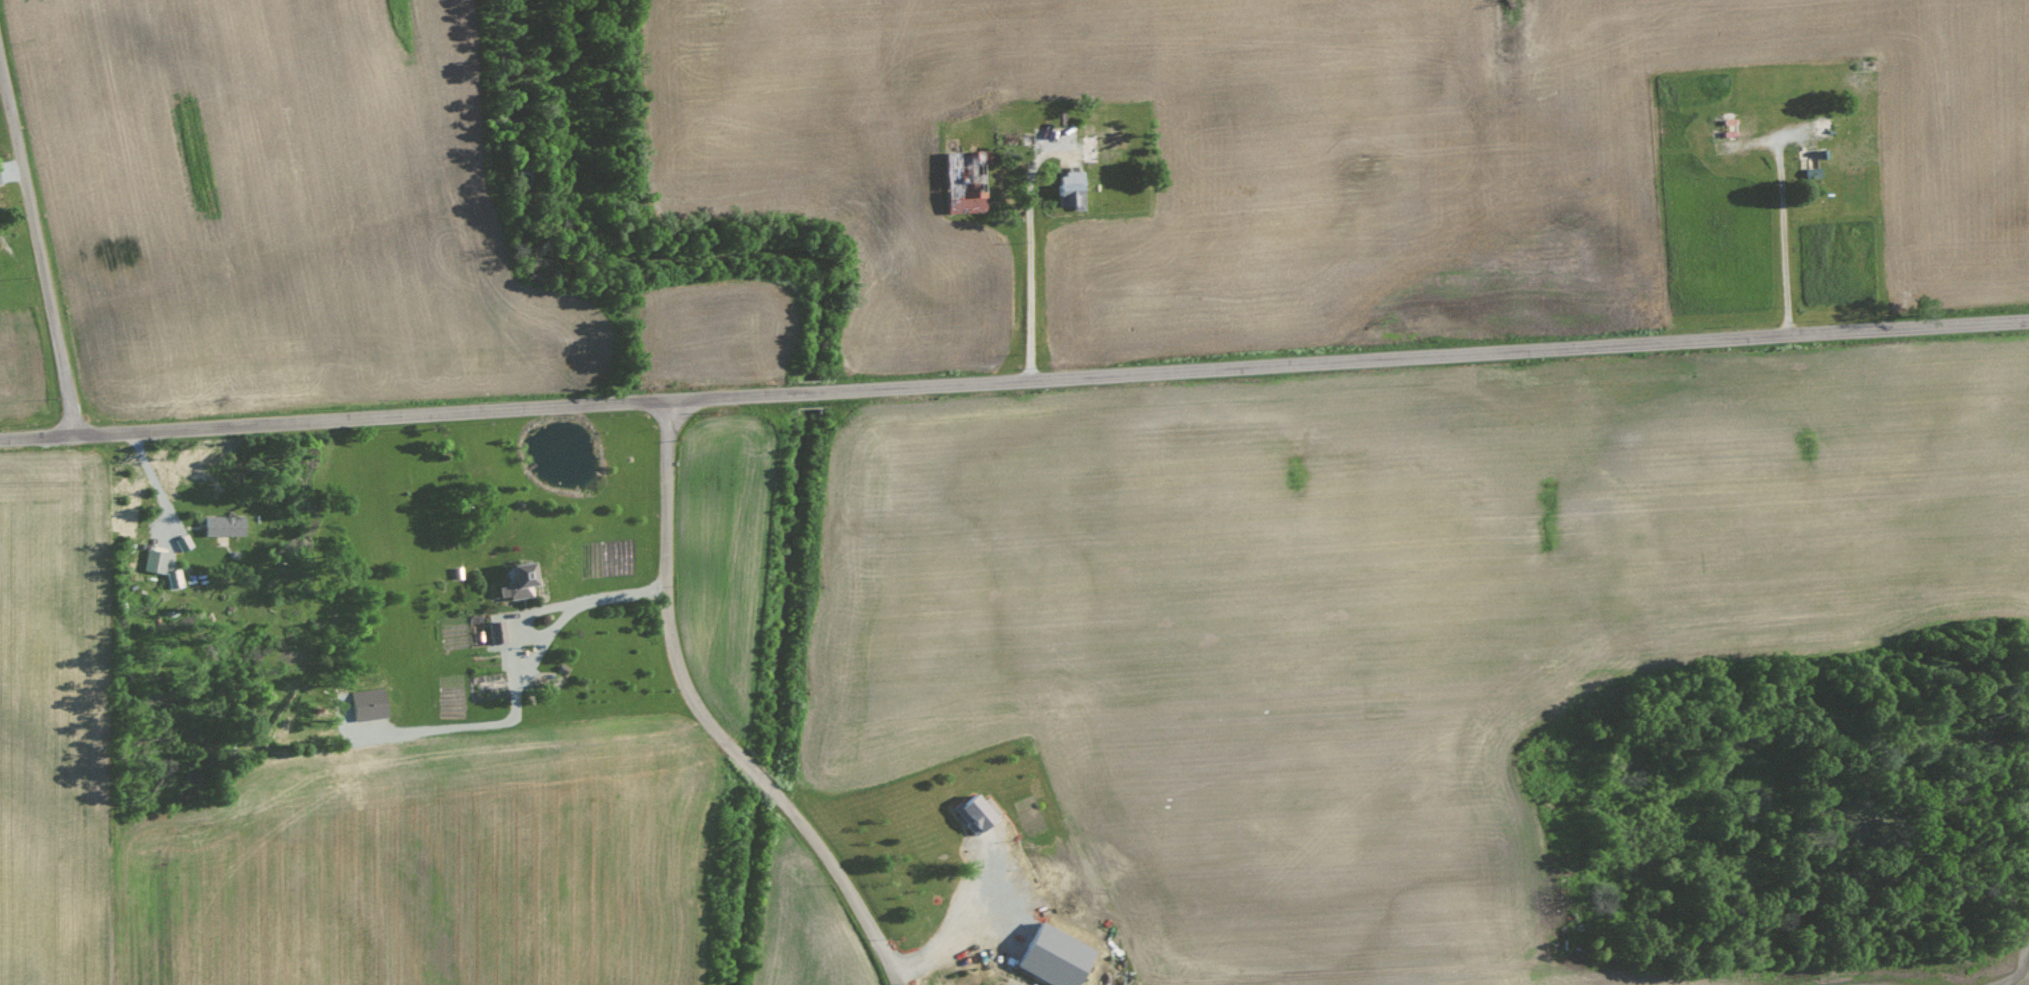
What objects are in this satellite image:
building: (969, 184)
building: (1071, 189)
road: (1030, 247)
road: (38, 249)
road: (1014, 380)
building: (224, 525)
building: (183, 542)
building: (155, 560)
building: (518, 582)
road: (549, 604)
building: (496, 631)
building: (369, 706)
road: (708, 719)
building: (975, 811)
building: (1055, 955)

